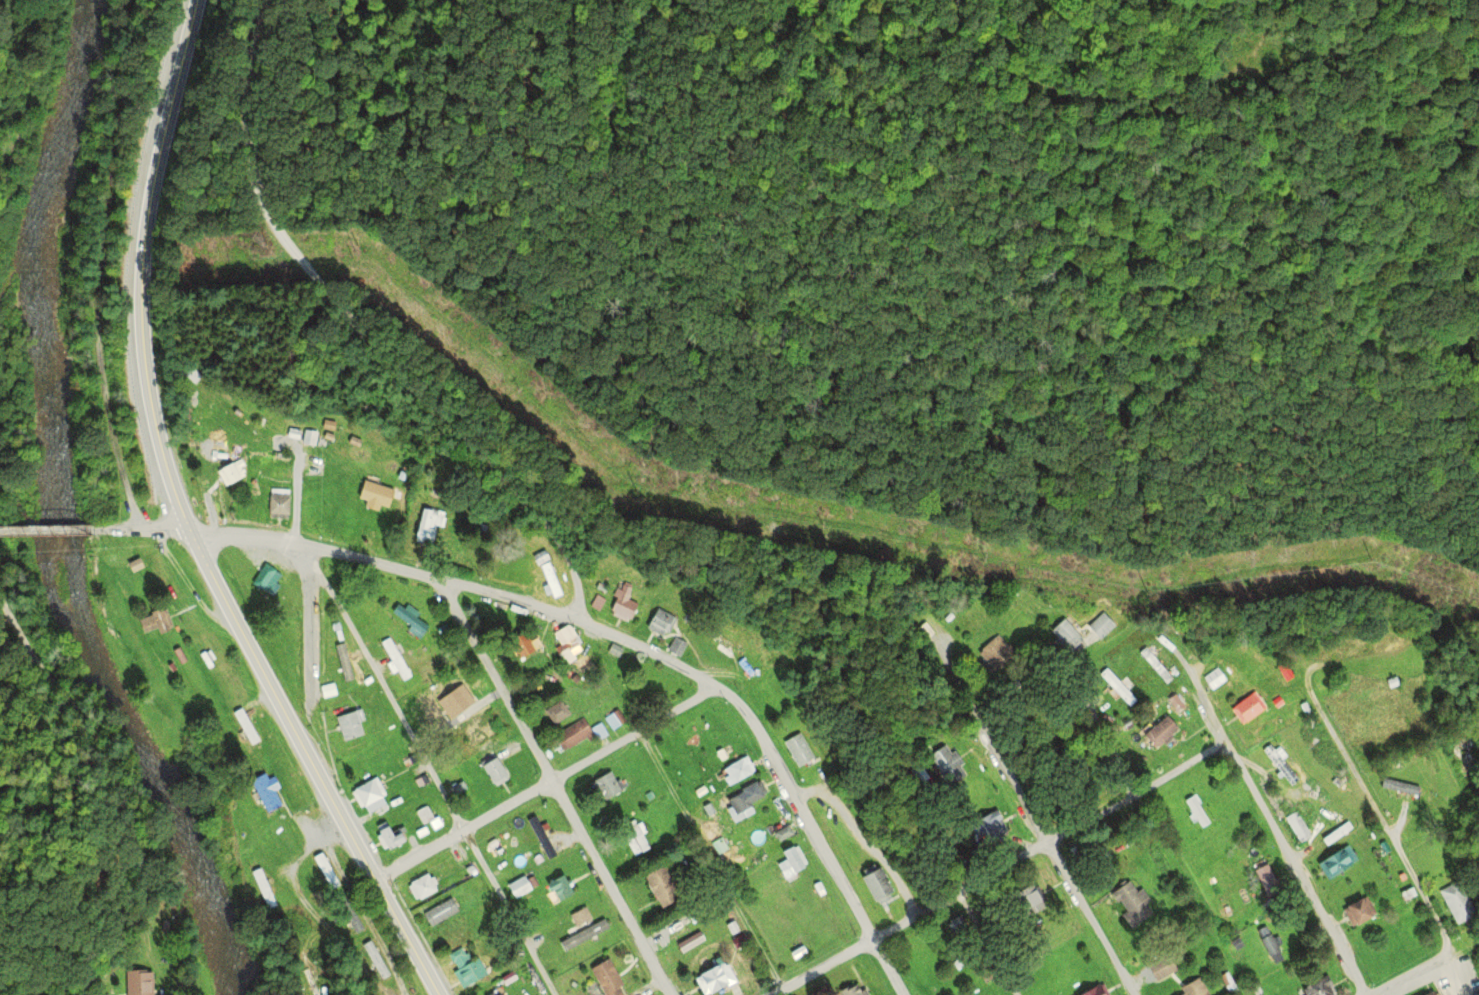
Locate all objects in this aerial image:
road: (101, 265)
road: (146, 267)
road: (373, 328)
building: (308, 439)
building: (228, 470)
building: (264, 471)
building: (374, 493)
building: (279, 504)
building: (340, 513)
building: (423, 527)
road: (120, 529)
road: (49, 530)
road: (166, 532)
building: (135, 564)
building: (550, 578)
building: (266, 579)
building: (623, 602)
building: (156, 621)
building: (661, 622)
building: (412, 623)
building: (1096, 628)
road: (311, 631)
building: (1064, 636)
building: (568, 637)
building: (725, 641)
building: (523, 644)
road: (632, 646)
building: (613, 649)
building: (677, 649)
building: (995, 651)
building: (396, 658)
building: (1155, 663)
building: (1283, 672)
building: (1215, 677)
road: (1193, 681)
building: (1115, 685)
building: (1175, 704)
building: (1247, 708)
building: (555, 710)
building: (613, 722)
building: (349, 723)
building: (243, 725)
building: (477, 728)
building: (1159, 732)
building: (569, 735)
road: (1099, 748)
building: (798, 749)
building: (1281, 763)
building: (946, 765)
road: (311, 767)
building: (495, 769)
building: (737, 770)
road: (431, 771)
building: (605, 785)
road: (549, 786)
road: (559, 788)
building: (264, 790)
road: (88, 794)
building: (368, 794)
building: (746, 796)
road: (1374, 807)
building: (1196, 811)
building: (423, 814)
building: (1298, 825)
building: (986, 830)
building: (634, 835)
building: (385, 837)
building: (541, 838)
building: (511, 852)
building: (790, 855)
building: (1336, 860)
road: (1057, 861)
road: (714, 864)
building: (326, 870)
road: (1297, 870)
road: (1004, 871)
building: (1263, 877)
building: (875, 884)
building: (423, 885)
building: (661, 886)
building: (518, 887)
building: (263, 888)
building: (559, 889)
building: (1028, 900)
road: (314, 903)
building: (1131, 903)
building: (1455, 903)
building: (1357, 910)
building: (440, 911)
building: (579, 913)
building: (350, 915)
building: (956, 925)
building: (584, 935)
building: (740, 942)
road: (988, 944)
building: (376, 959)
building: (466, 968)
building: (1162, 969)
road: (1456, 976)
building: (605, 978)
road: (1409, 978)
building: (512, 979)
building: (711, 979)
building: (140, 983)
building: (1319, 987)
building: (851, 989)
building: (1194, 989)
building: (1096, 990)
building: (1431, 994)

